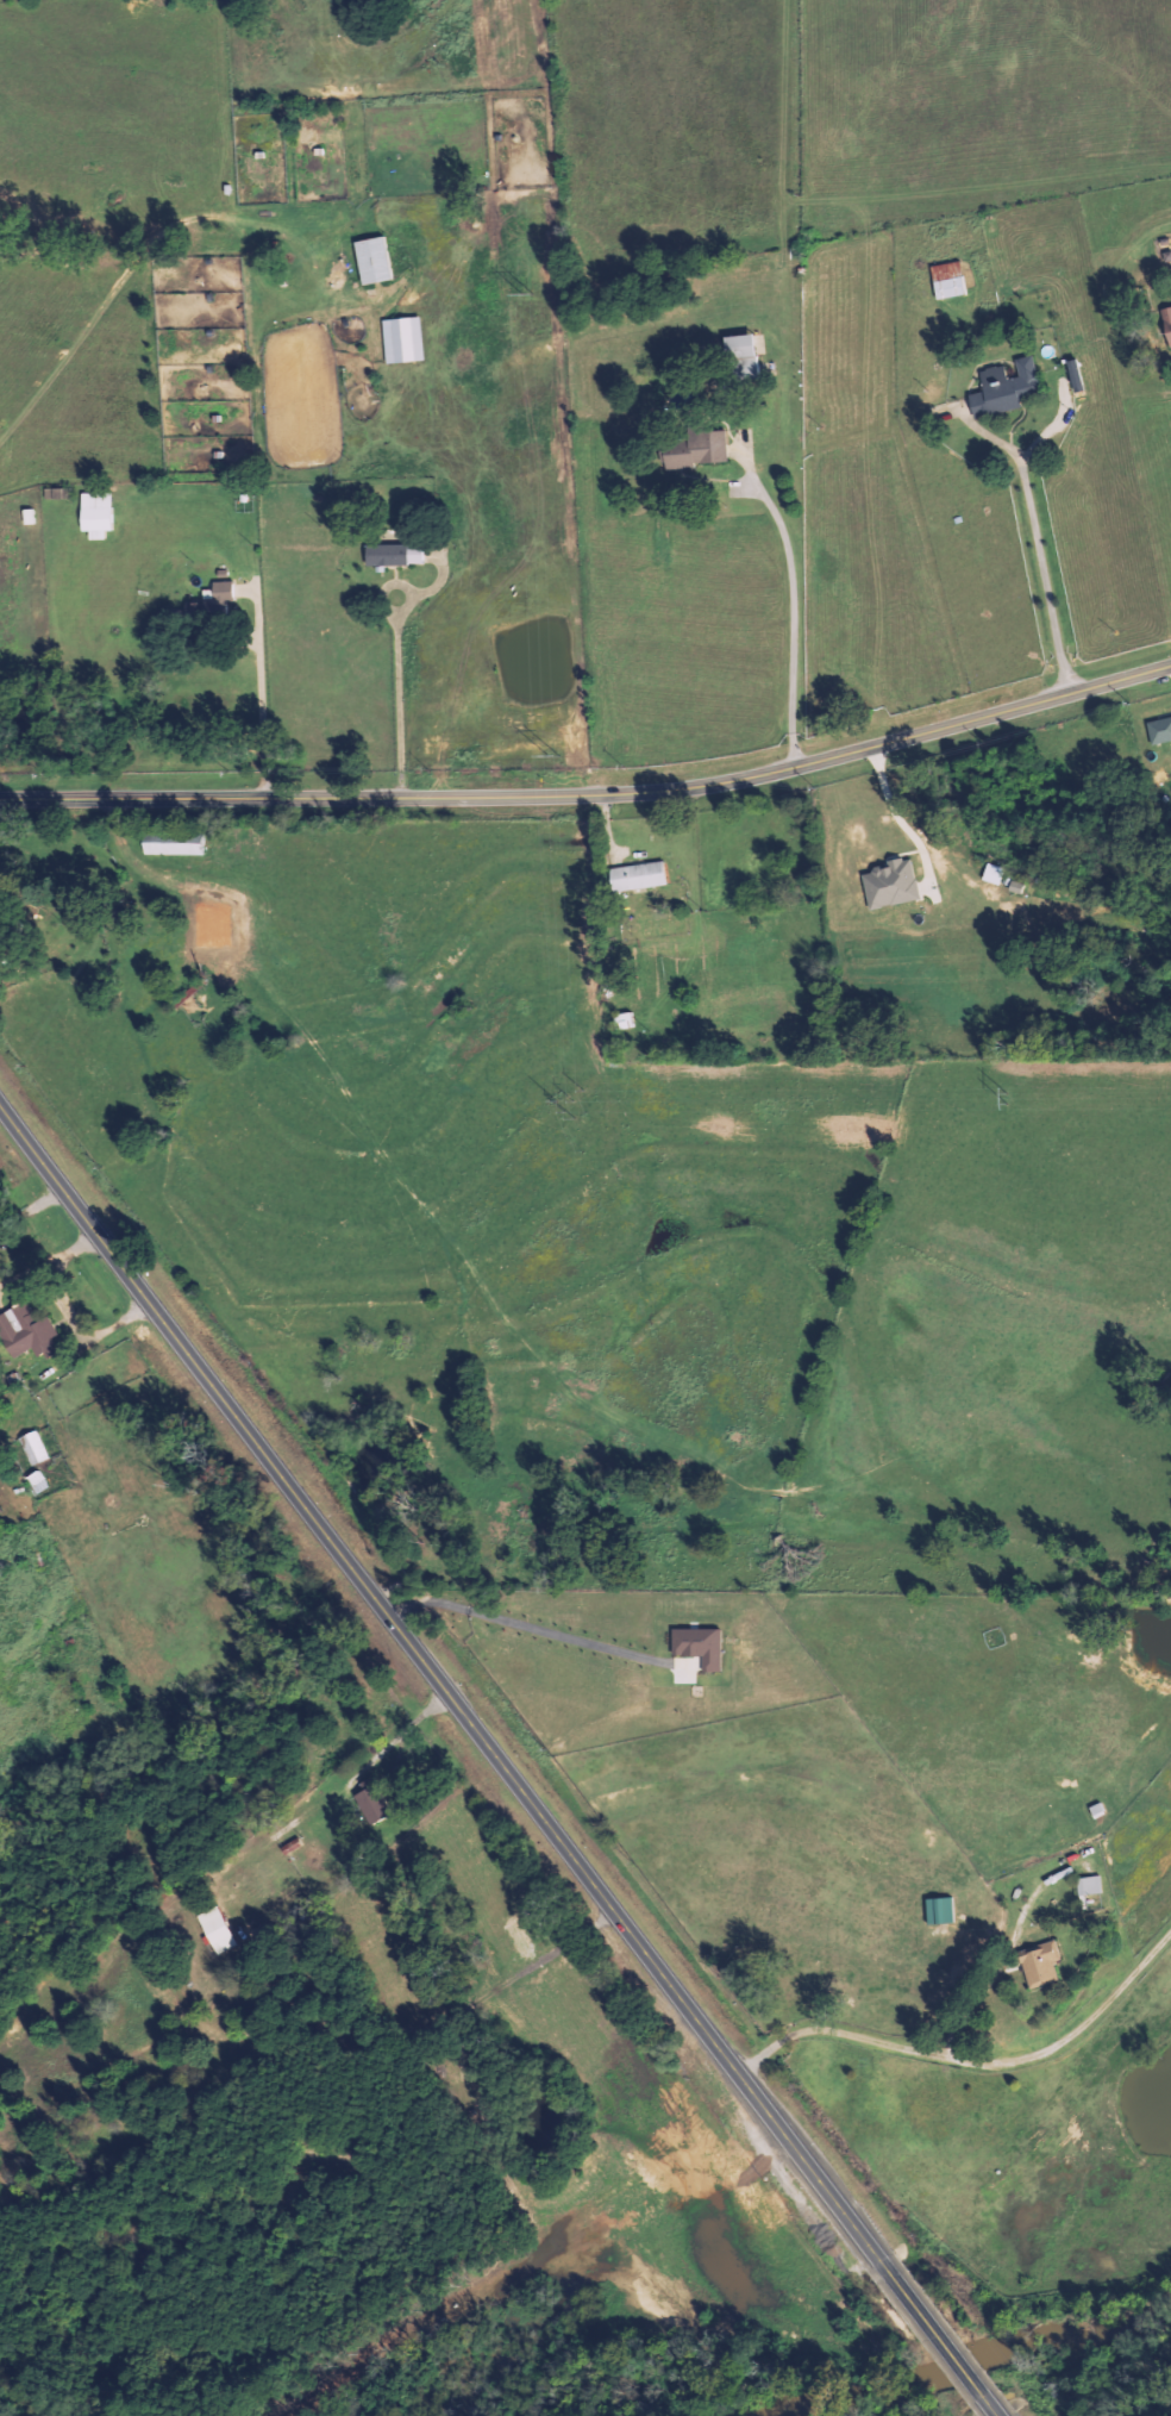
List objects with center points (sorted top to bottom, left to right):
building: (372, 260)
building: (948, 280)
building: (1166, 324)
building: (402, 339)
building: (738, 345)
building: (1006, 388)
building: (695, 450)
building: (96, 514)
building: (29, 517)
road: (1044, 545)
building: (394, 554)
road: (253, 697)
building: (1159, 731)
road: (593, 794)
building: (171, 849)
building: (637, 876)
building: (890, 885)
building: (622, 1020)
building: (26, 1331)
building: (33, 1447)
building: (699, 1646)
road: (434, 1679)
building: (372, 1800)
building: (1089, 1886)
building: (939, 1911)
building: (217, 1930)
building: (1040, 1965)
road: (932, 2334)
road: (994, 2414)

